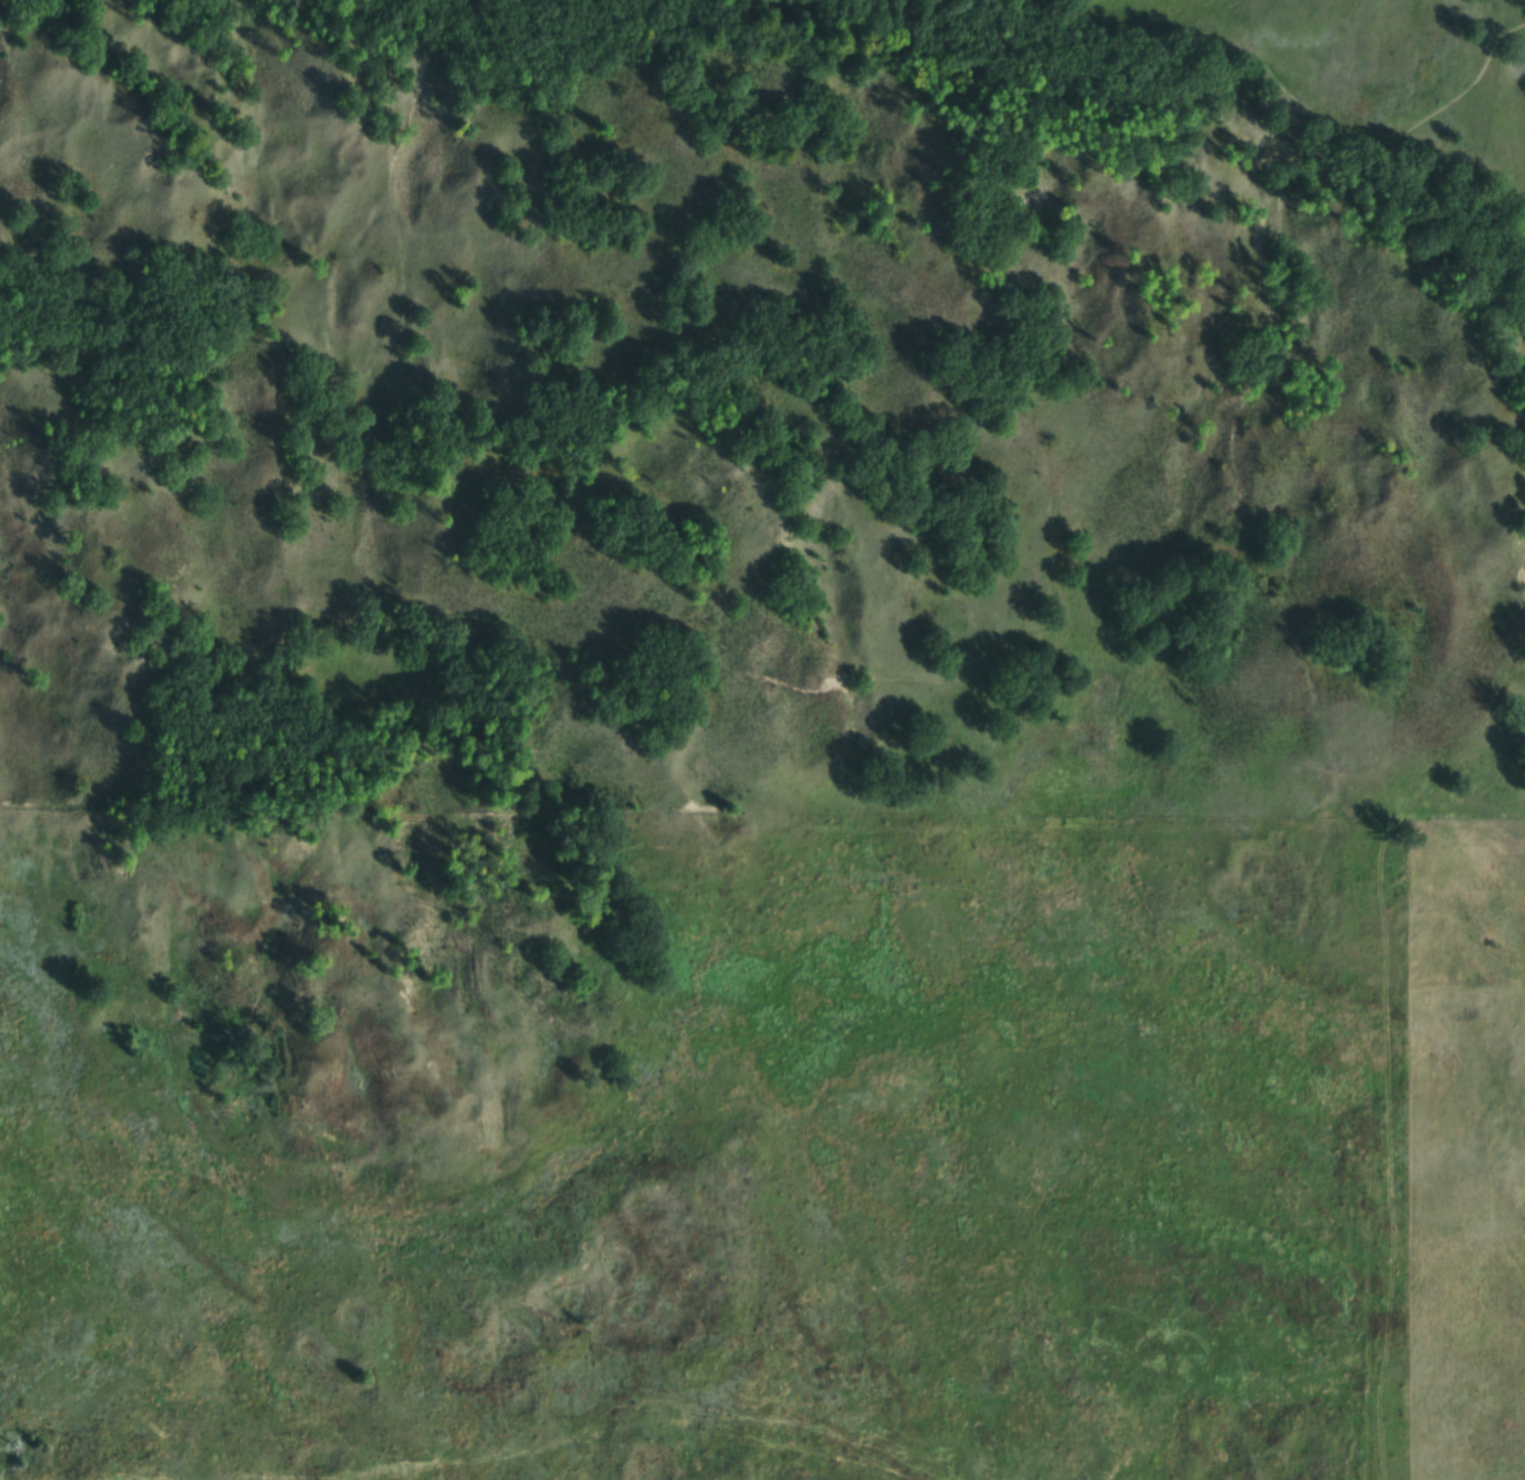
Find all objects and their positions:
road: (1284, 100)

